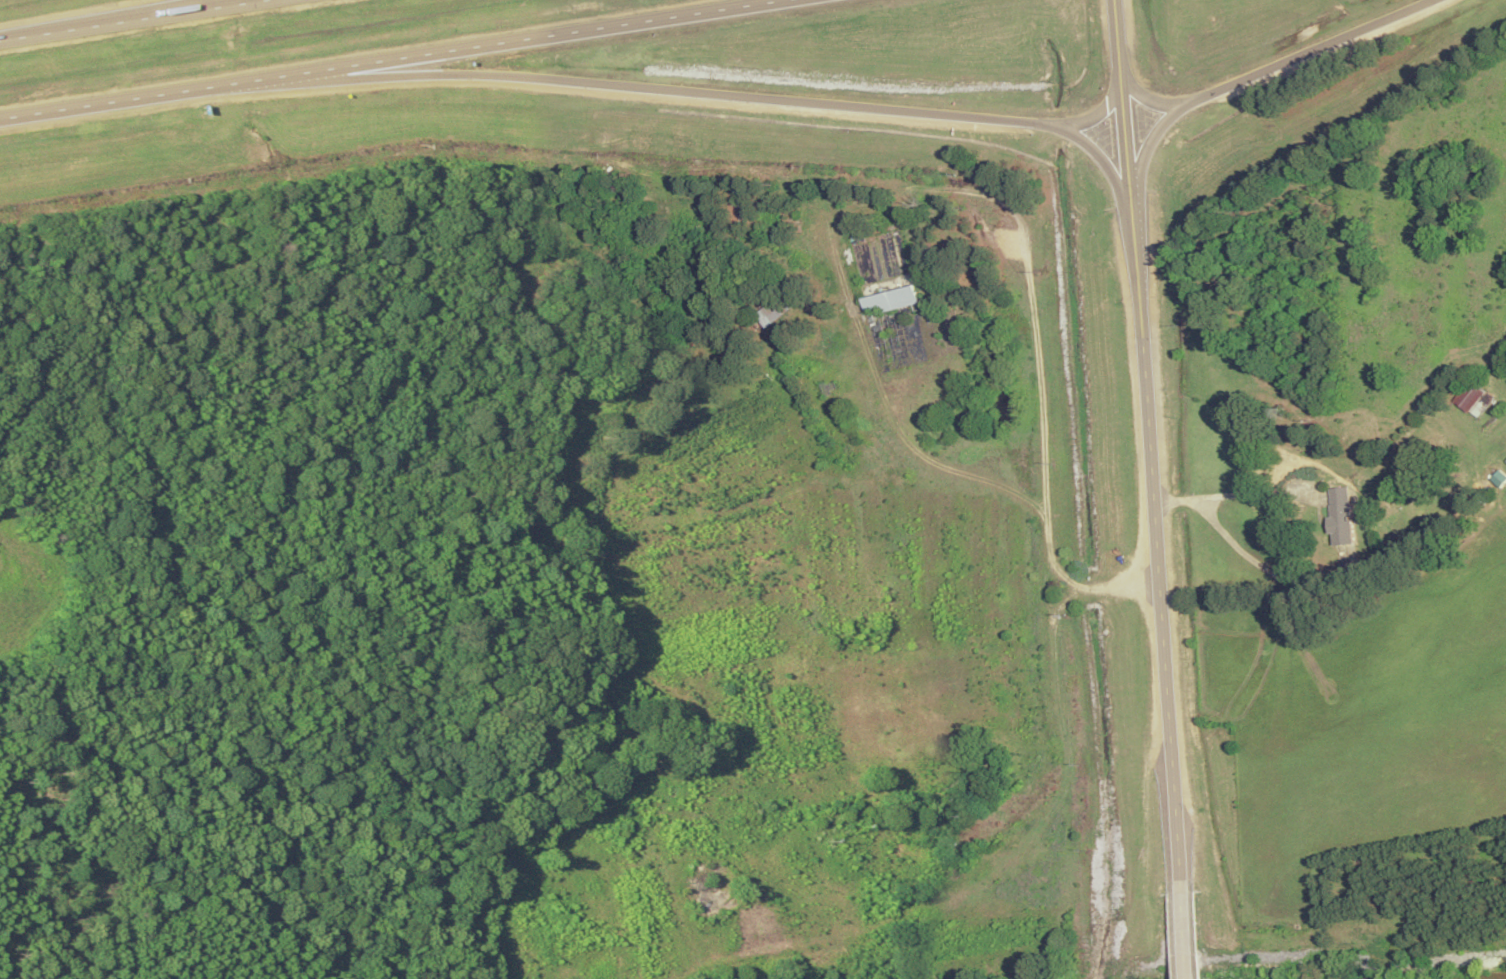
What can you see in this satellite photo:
road: (130, 20)
road: (395, 58)
road: (1253, 74)
road: (687, 90)
road: (1150, 98)
road: (1099, 112)
road: (967, 188)
building: (884, 269)
building: (774, 310)
building: (1475, 397)
road: (1149, 438)
building: (1342, 514)
road: (1186, 928)

